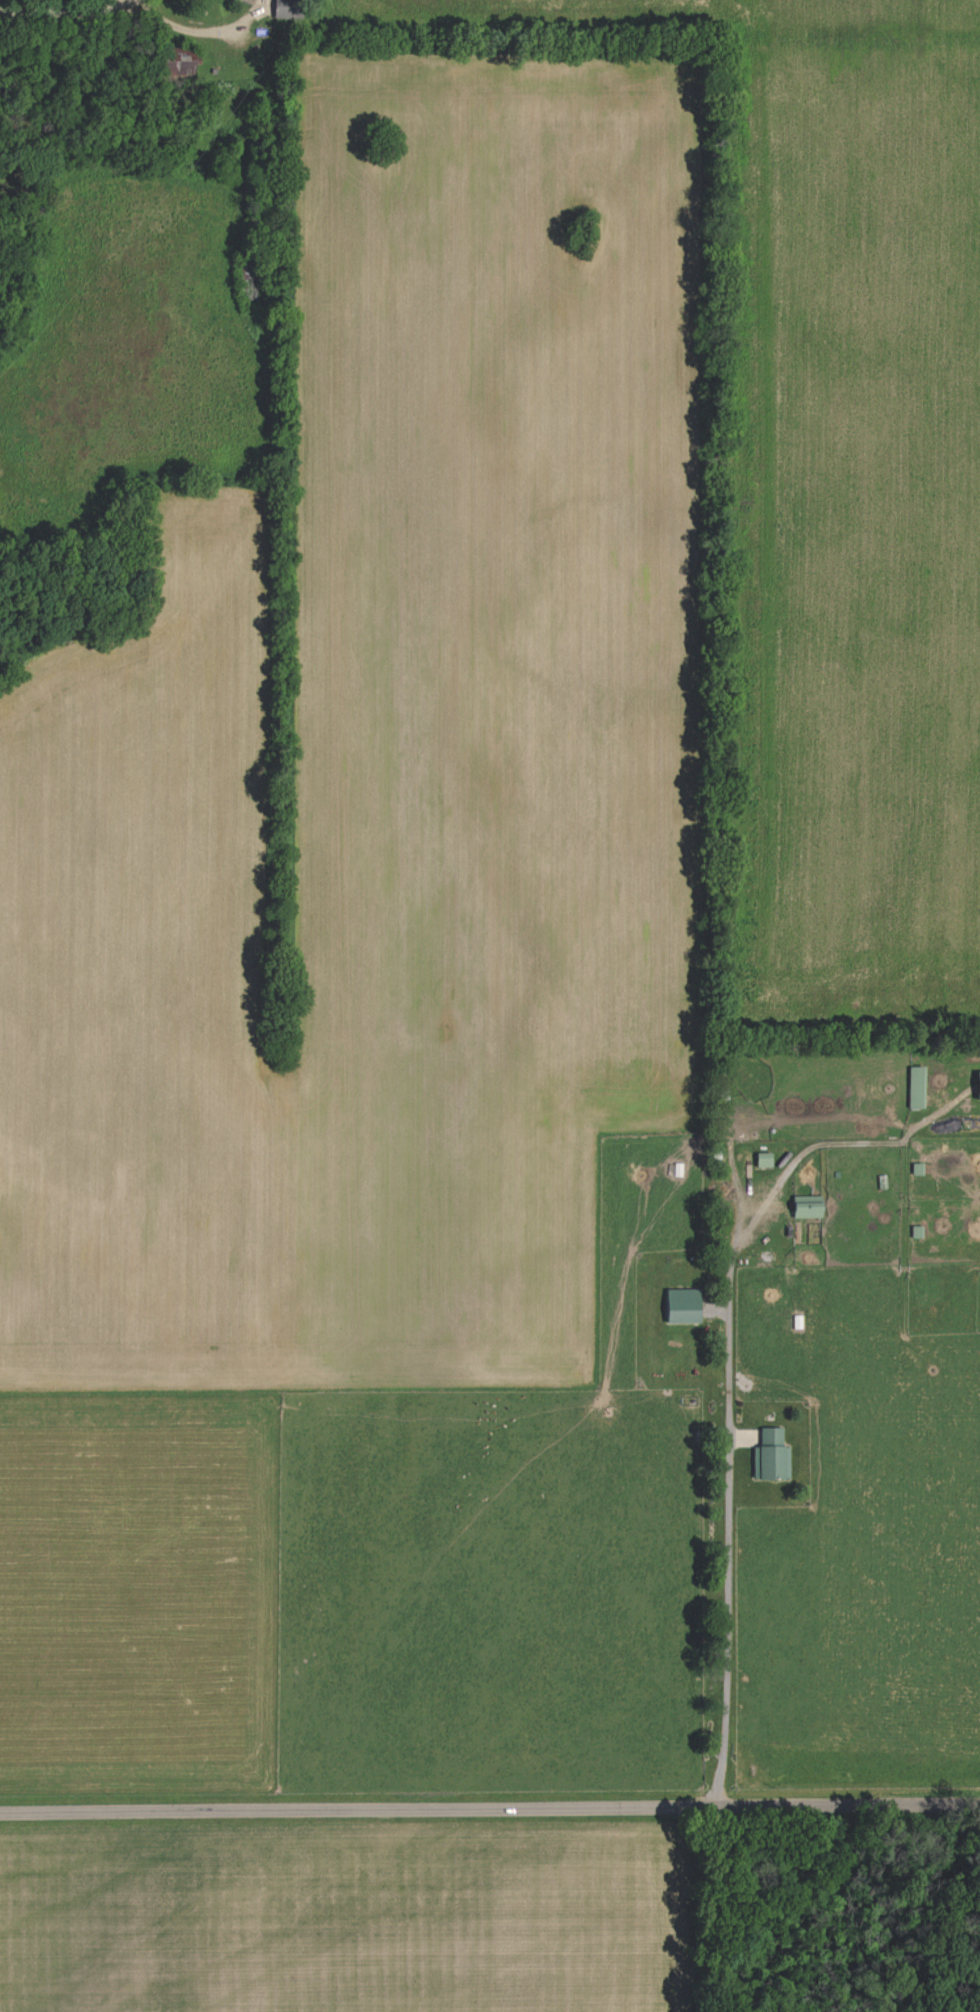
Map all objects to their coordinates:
road: (69, 10)
building: (286, 12)
road: (198, 31)
building: (979, 1076)
building: (919, 1089)
building: (767, 1161)
building: (810, 1208)
building: (686, 1307)
road: (731, 1418)
building: (774, 1457)
road: (489, 1799)

